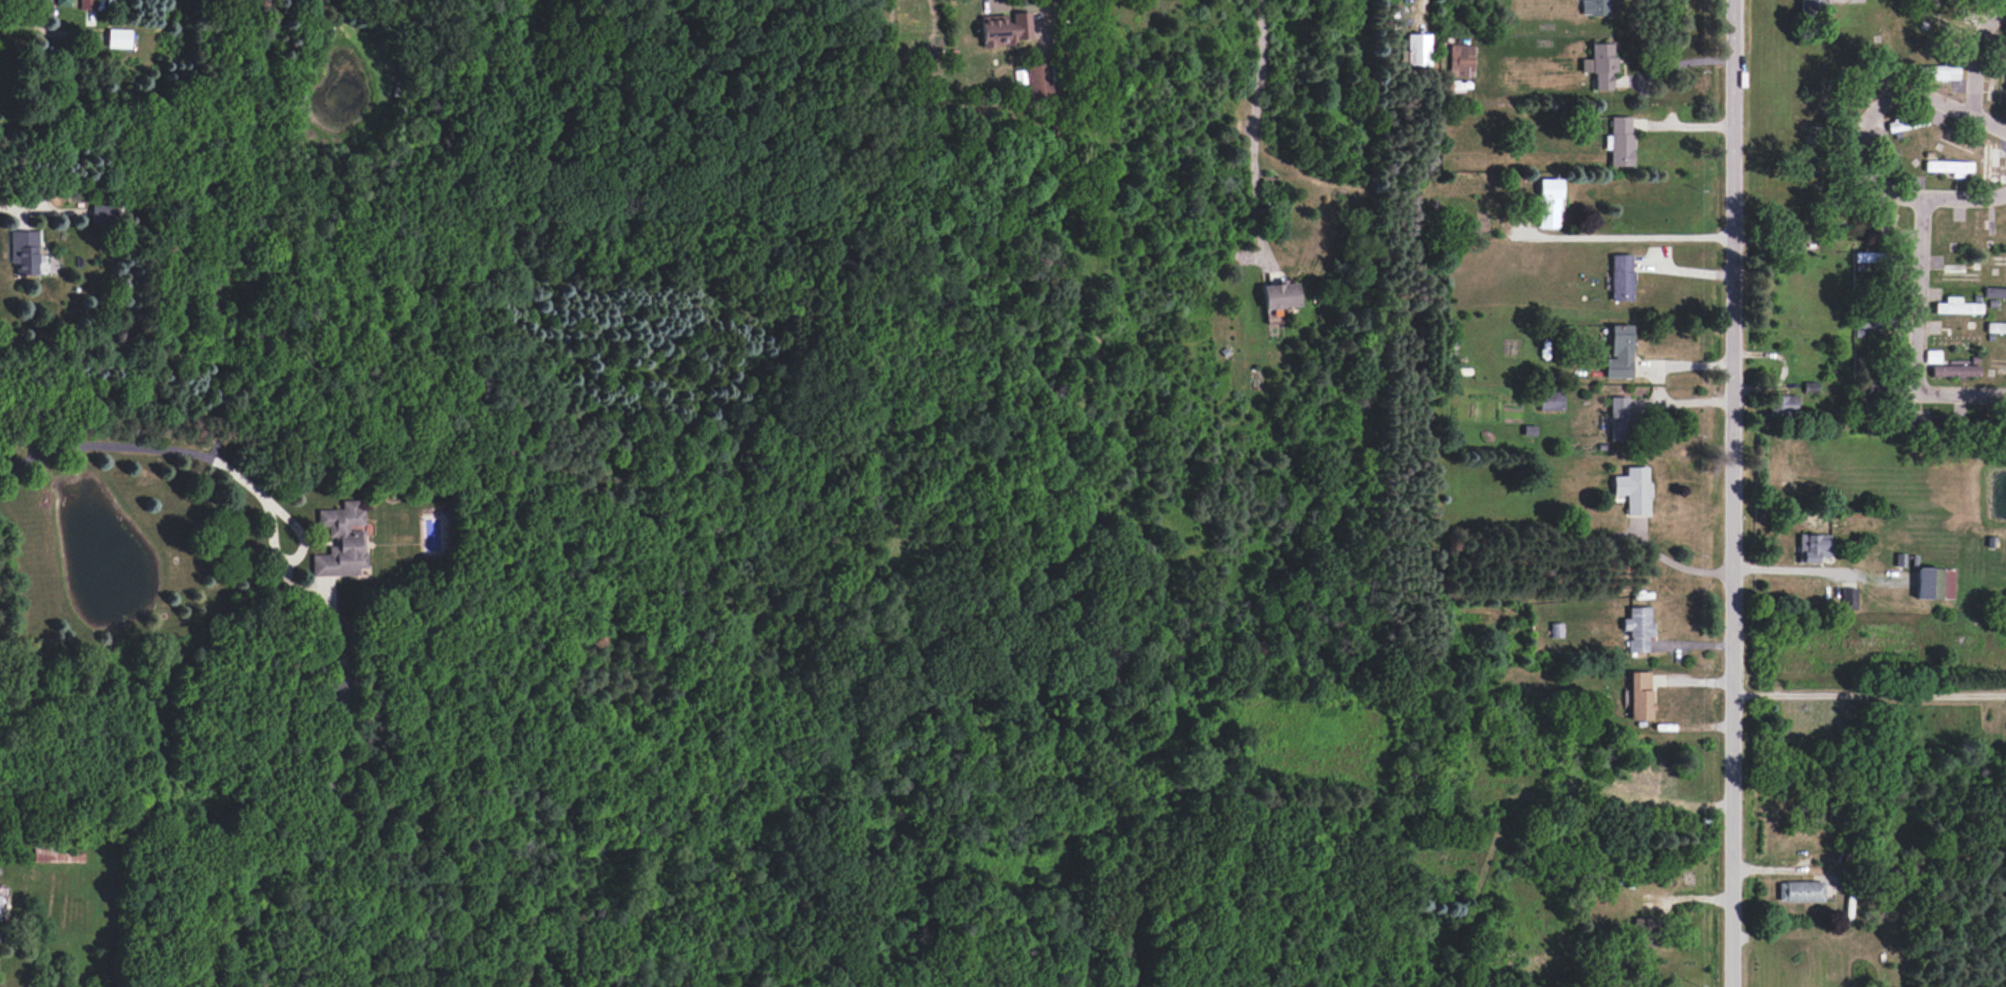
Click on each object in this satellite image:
building: (63, 2)
road: (990, 2)
road: (1048, 2)
building: (87, 4)
building: (1594, 7)
building: (1812, 7)
building: (1005, 29)
building: (2004, 32)
building: (118, 38)
building: (1418, 49)
road: (1973, 53)
building: (1461, 59)
road: (1674, 64)
building: (1600, 65)
building: (1941, 72)
building: (1039, 80)
building: (1906, 122)
road: (1252, 127)
road: (1859, 139)
building: (1620, 141)
building: (1991, 161)
building: (1948, 167)
building: (1549, 203)
road: (16, 205)
building: (103, 213)
road: (1631, 236)
building: (24, 251)
building: (1867, 256)
building: (1621, 277)
building: (1994, 292)
building: (1279, 299)
building: (1956, 306)
building: (1867, 322)
building: (1995, 327)
road: (1919, 334)
building: (1955, 340)
building: (1619, 352)
building: (1932, 356)
building: (1954, 370)
building: (1810, 386)
building: (1551, 401)
building: (1785, 404)
building: (1621, 419)
building: (1924, 424)
road: (139, 449)
building: (1633, 489)
road: (1733, 493)
building: (342, 541)
building: (1812, 547)
road: (294, 559)
road: (1677, 565)
road: (1788, 569)
building: (1934, 583)
building: (1849, 597)
building: (1556, 629)
road: (1869, 690)
building: (340, 692)
building: (1640, 695)
building: (1646, 776)
building: (58, 855)
building: (1800, 891)
building: (0, 910)
building: (1644, 931)

